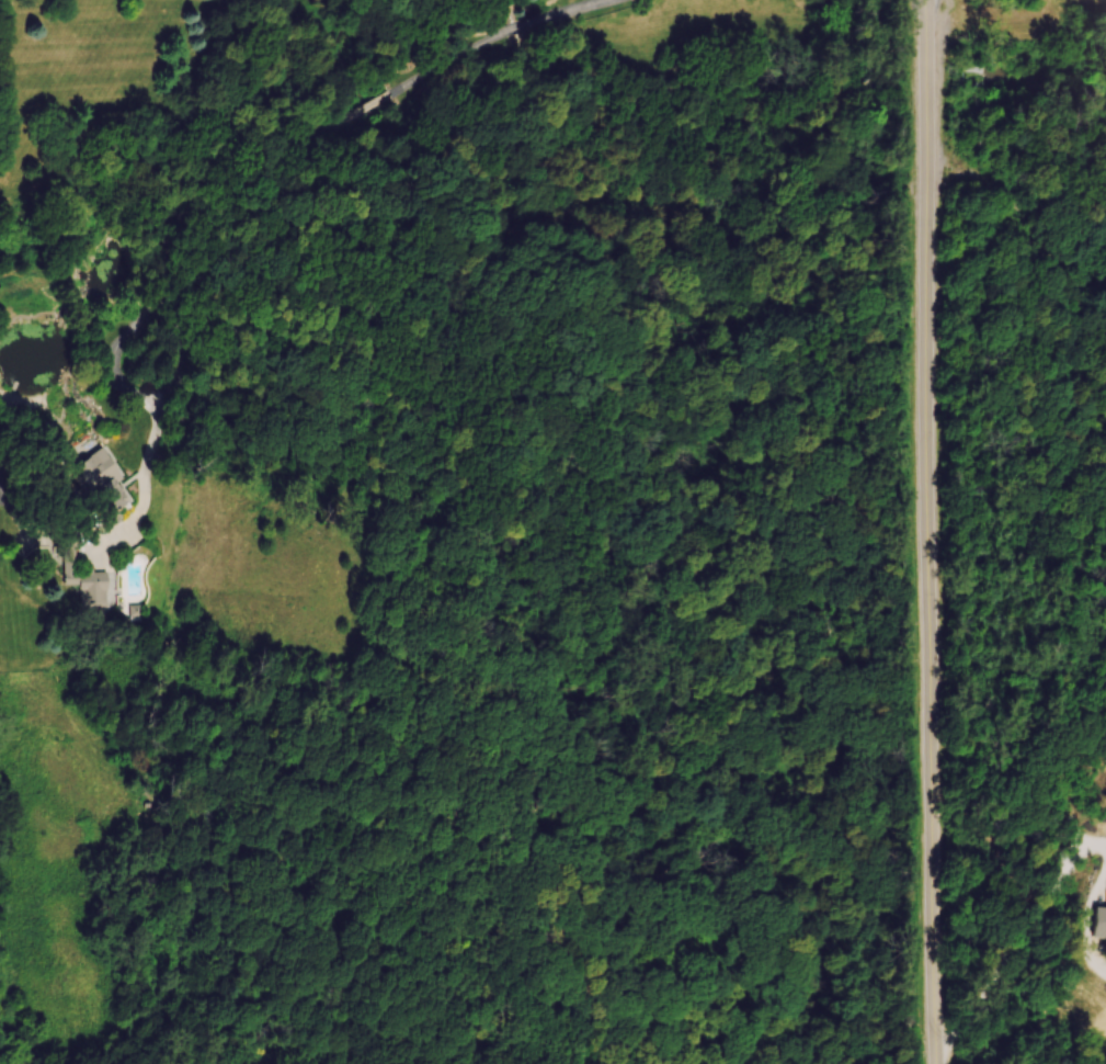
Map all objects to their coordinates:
road: (493, 39)
road: (372, 107)
road: (946, 167)
road: (1045, 239)
road: (171, 275)
park: (1027, 408)
building: (100, 485)
road: (12, 507)
building: (87, 586)
road: (1087, 921)
road: (937, 937)
road: (1017, 948)

